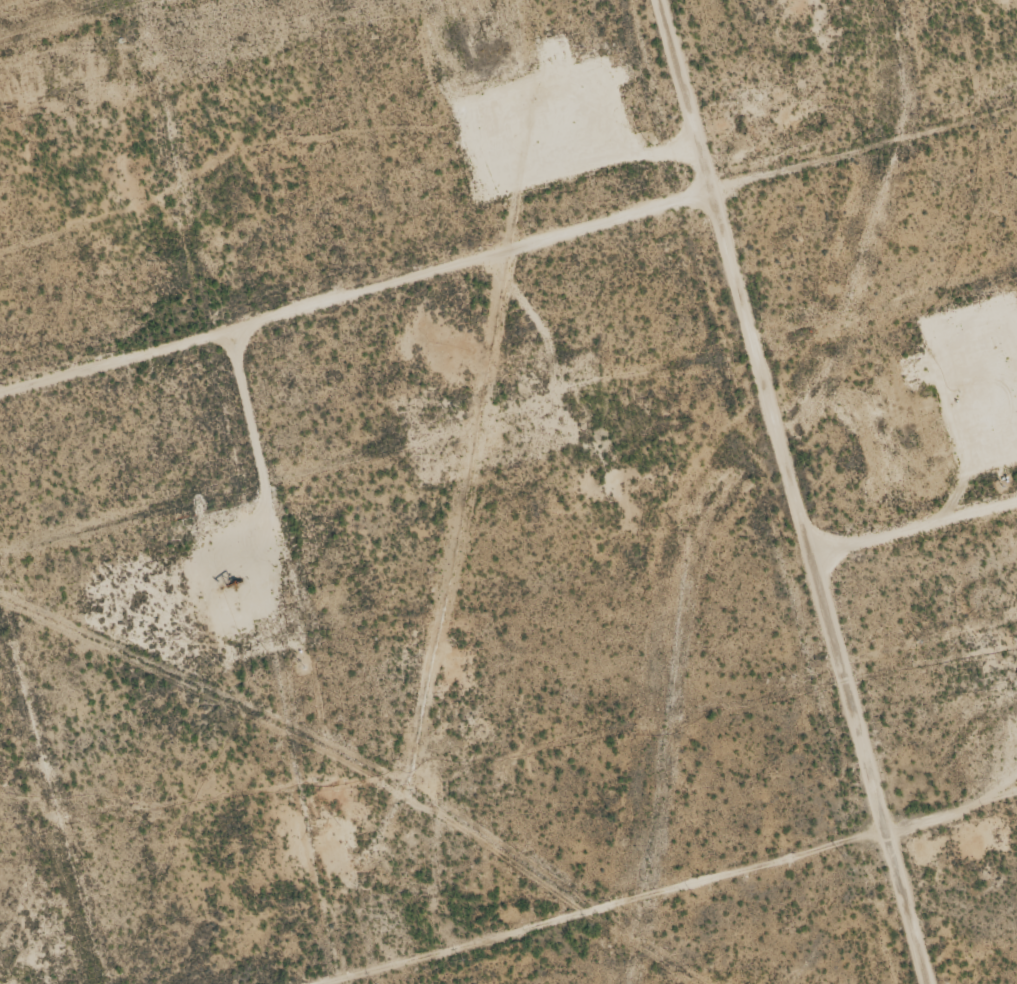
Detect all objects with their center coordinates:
road: (805, 492)

